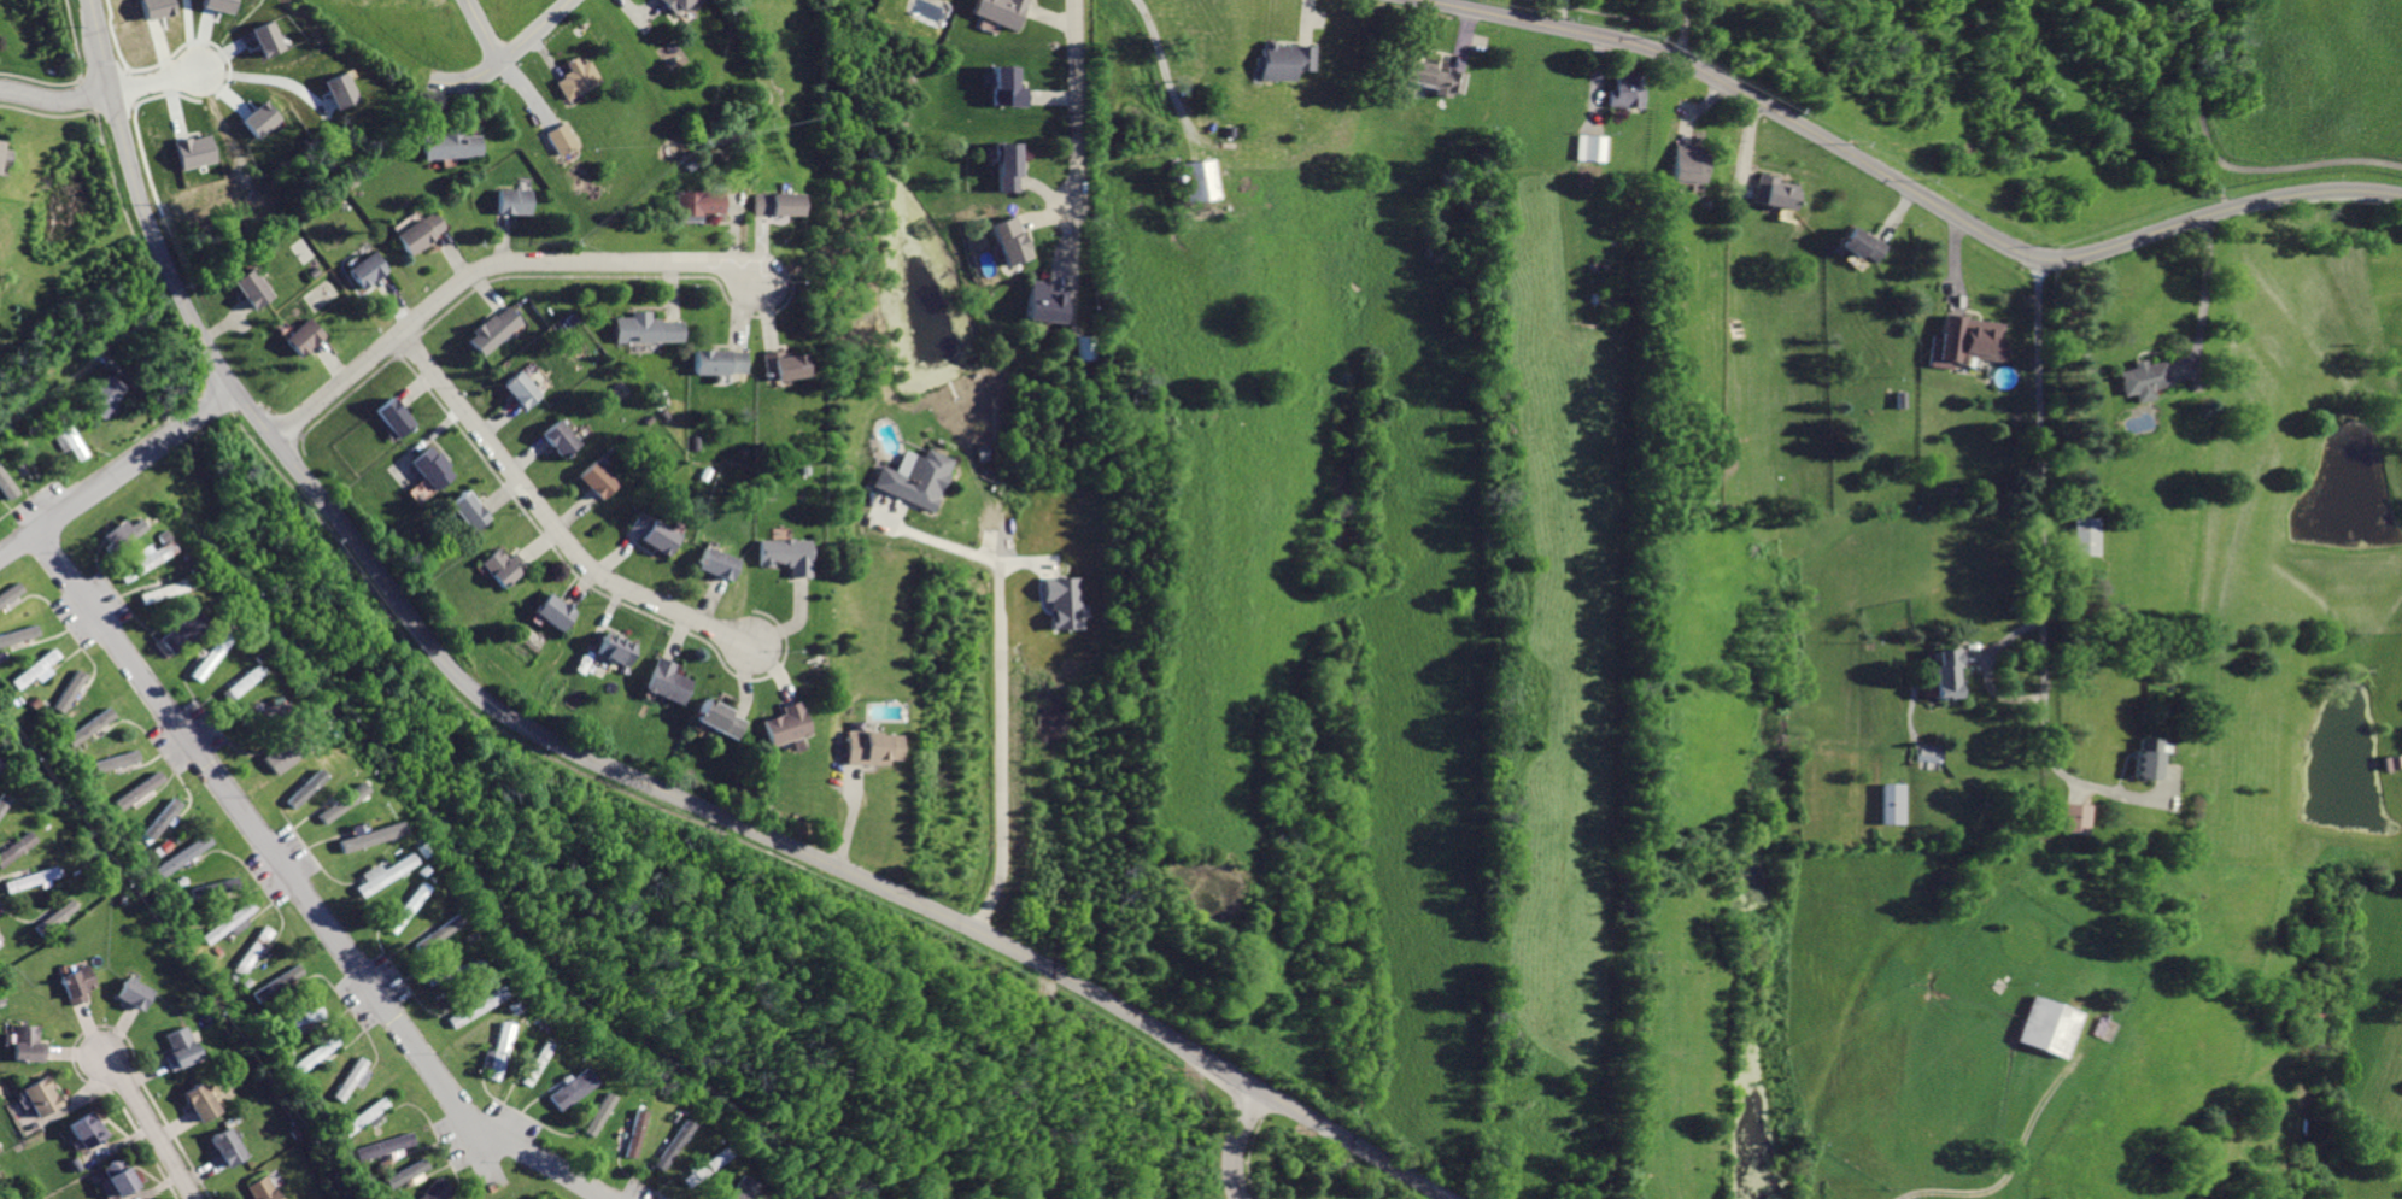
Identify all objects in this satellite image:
building: (223, 4)
building: (674, 6)
building: (159, 7)
building: (1006, 11)
road: (1559, 13)
road: (1682, 29)
road: (484, 30)
building: (271, 39)
road: (505, 55)
building: (1288, 60)
building: (1434, 78)
building: (575, 81)
road: (1168, 81)
road: (159, 83)
building: (1009, 88)
building: (345, 89)
building: (1627, 92)
road: (54, 101)
road: (1079, 105)
park: (2121, 110)
building: (265, 118)
building: (561, 139)
building: (449, 145)
building: (1592, 148)
building: (199, 149)
building: (2, 158)
building: (1689, 164)
road: (2224, 164)
building: (1009, 166)
building: (1196, 180)
road: (1905, 187)
building: (1776, 193)
building: (515, 201)
building: (771, 204)
building: (693, 205)
building: (422, 233)
building: (1012, 241)
building: (1863, 243)
road: (490, 268)
building: (367, 270)
building: (254, 289)
road: (2203, 289)
building: (1045, 304)
building: (646, 328)
building: (496, 330)
building: (304, 337)
building: (1967, 341)
building: (1089, 347)
building: (720, 362)
building: (779, 365)
building: (2139, 380)
building: (523, 390)
building: (101, 398)
building: (398, 418)
building: (61, 431)
building: (563, 441)
building: (28, 452)
building: (433, 468)
road: (119, 472)
road: (2044, 475)
building: (913, 478)
building: (602, 482)
building: (5, 486)
building: (469, 512)
road: (555, 521)
building: (127, 534)
building: (2084, 534)
building: (657, 535)
road: (928, 537)
building: (786, 556)
building: (143, 563)
building: (720, 564)
building: (508, 568)
building: (164, 590)
building: (11, 593)
building: (1067, 600)
building: (556, 612)
building: (175, 631)
building: (19, 634)
building: (617, 650)
road: (1982, 651)
building: (207, 654)
road: (1994, 665)
building: (35, 668)
building: (1951, 674)
building: (238, 682)
building: (668, 682)
building: (70, 689)
building: (260, 713)
crop: (1664, 718)
building: (720, 721)
building: (92, 725)
building: (789, 725)
building: (872, 747)
road: (1002, 748)
building: (269, 752)
building: (2144, 760)
building: (113, 762)
building: (2394, 762)
building: (0, 764)
road: (604, 764)
building: (0, 769)
road: (2098, 787)
building: (301, 788)
building: (134, 793)
building: (1, 800)
building: (336, 801)
building: (1894, 804)
road: (853, 816)
building: (163, 818)
building: (2078, 818)
building: (355, 841)
building: (16, 847)
building: (183, 856)
building: (379, 875)
building: (33, 878)
building: (213, 888)
road: (299, 889)
building: (399, 907)
building: (59, 916)
building: (228, 922)
building: (437, 928)
building: (253, 951)
building: (451, 972)
building: (277, 983)
building: (80, 985)
building: (137, 995)
building: (474, 1007)
building: (293, 1021)
building: (2052, 1025)
building: (29, 1046)
building: (184, 1050)
building: (499, 1050)
building: (316, 1054)
building: (532, 1064)
building: (350, 1078)
building: (569, 1088)
building: (43, 1098)
building: (203, 1103)
building: (598, 1113)
building: (364, 1117)
road: (151, 1127)
building: (88, 1129)
building: (633, 1133)
road: (1236, 1141)
building: (385, 1145)
building: (668, 1145)
building: (229, 1147)
building: (704, 1166)
building: (406, 1174)
building: (121, 1180)
building: (737, 1183)
road: (1997, 1183)
building: (265, 1189)
building: (439, 1189)

